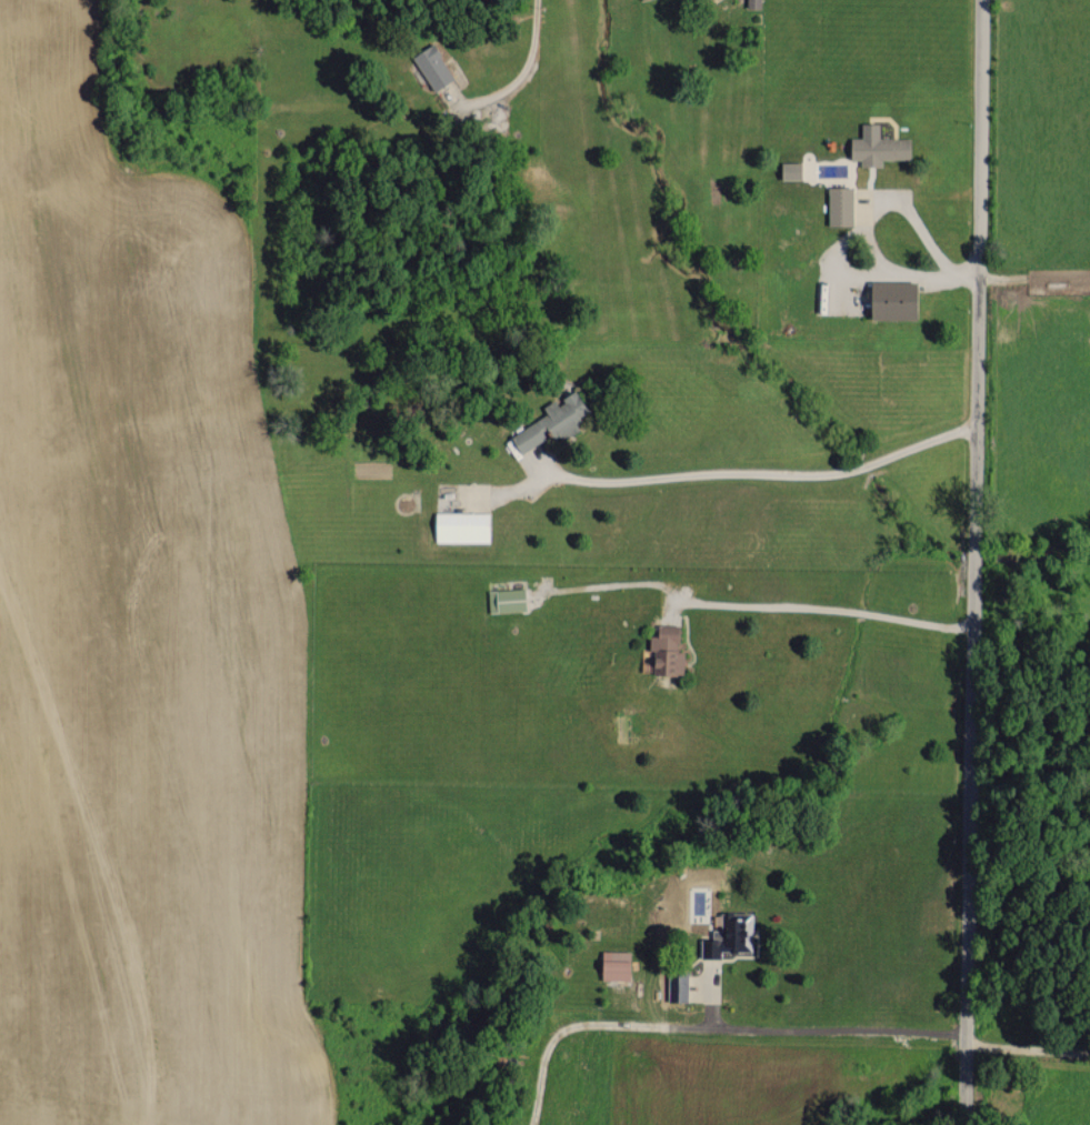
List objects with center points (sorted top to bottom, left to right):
building: (753, 3)
building: (432, 67)
road: (518, 76)
building: (878, 147)
building: (790, 170)
building: (840, 205)
road: (858, 221)
building: (893, 301)
building: (552, 421)
road: (732, 473)
building: (461, 525)
road: (972, 562)
building: (506, 599)
road: (823, 609)
building: (667, 649)
building: (729, 935)
building: (616, 964)
building: (677, 985)
road: (712, 1026)

